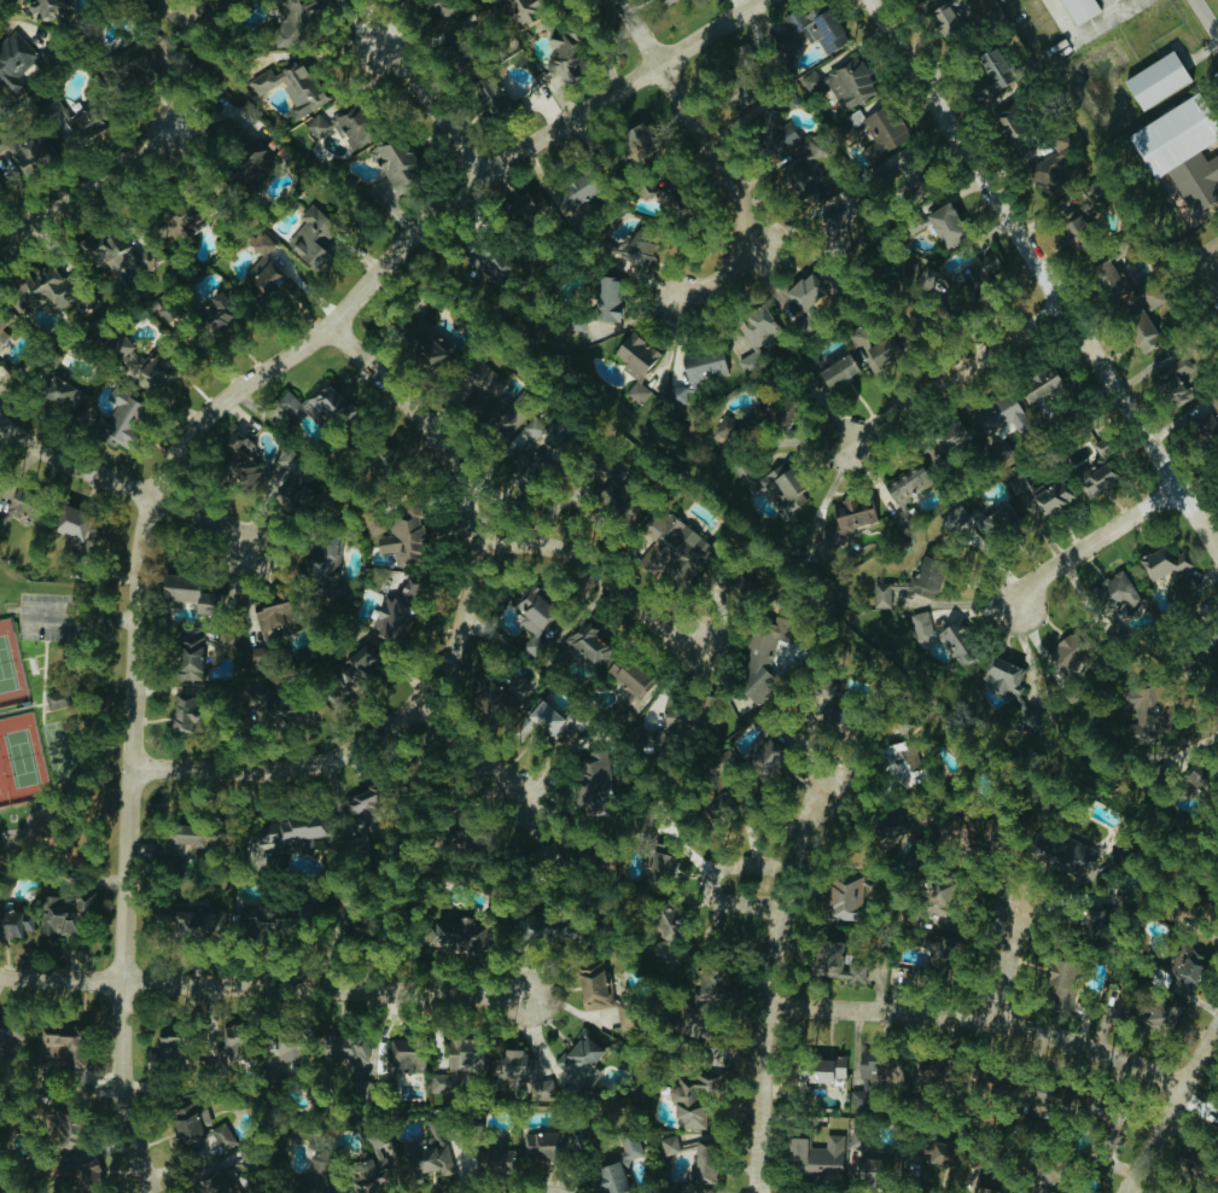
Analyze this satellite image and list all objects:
building: (1115, 0)
building: (668, 1)
building: (51, 6)
building: (444, 10)
building: (1079, 10)
building: (519, 13)
building: (293, 18)
road: (1205, 18)
building: (950, 19)
road: (1082, 29)
building: (812, 30)
road: (639, 33)
building: (453, 56)
building: (133, 57)
building: (561, 58)
building: (16, 62)
building: (990, 71)
building: (1155, 78)
building: (851, 82)
building: (291, 86)
building: (739, 88)
building: (490, 93)
building: (788, 97)
road: (432, 106)
building: (342, 124)
building: (1009, 124)
building: (882, 130)
building: (771, 132)
building: (1171, 134)
building: (639, 138)
building: (1060, 138)
building: (33, 150)
building: (247, 155)
building: (395, 162)
building: (909, 173)
building: (1049, 174)
building: (1197, 178)
building: (804, 179)
building: (0, 182)
road: (88, 185)
road: (734, 186)
building: (575, 190)
building: (654, 191)
building: (535, 200)
road: (433, 217)
building: (915, 220)
building: (177, 222)
building: (1082, 222)
building: (945, 223)
building: (834, 231)
building: (311, 234)
building: (262, 241)
road: (751, 244)
building: (637, 248)
building: (116, 249)
road: (1048, 269)
building: (927, 278)
building: (1112, 278)
building: (268, 281)
building: (40, 287)
building: (804, 292)
building: (1153, 296)
building: (608, 298)
road: (1199, 309)
building: (1217, 310)
building: (215, 313)
building: (1141, 328)
building: (2, 331)
building: (757, 334)
building: (427, 341)
building: (118, 343)
building: (882, 349)
building: (637, 361)
building: (839, 369)
building: (157, 371)
building: (698, 372)
road: (955, 379)
building: (1179, 379)
building: (1039, 383)
building: (62, 391)
building: (490, 400)
building: (330, 402)
building: (1002, 413)
building: (110, 417)
building: (1204, 425)
building: (535, 426)
building: (727, 427)
building: (951, 432)
building: (521, 450)
building: (380, 456)
building: (240, 461)
road: (74, 465)
building: (110, 477)
building: (1095, 478)
building: (782, 481)
building: (907, 482)
building: (297, 491)
building: (611, 494)
road: (462, 497)
building: (1051, 497)
road: (204, 517)
building: (850, 517)
building: (1, 522)
building: (980, 522)
building: (78, 525)
building: (404, 534)
road: (1095, 543)
building: (672, 546)
building: (324, 559)
building: (1164, 561)
road: (589, 563)
building: (927, 576)
building: (729, 581)
building: (1119, 589)
building: (187, 590)
building: (1190, 590)
building: (882, 594)
building: (397, 612)
building: (270, 615)
road: (82, 616)
building: (535, 617)
building: (944, 634)
building: (585, 639)
road: (686, 639)
building: (1068, 648)
building: (198, 650)
building: (760, 657)
building: (1199, 658)
building: (350, 673)
building: (629, 674)
building: (1003, 675)
building: (827, 691)
building: (483, 694)
building: (57, 698)
building: (290, 710)
building: (182, 712)
building: (1142, 712)
building: (681, 716)
building: (547, 717)
park: (19, 723)
road: (472, 750)
building: (765, 758)
building: (904, 762)
road: (284, 769)
building: (1195, 774)
building: (506, 775)
building: (594, 781)
building: (362, 801)
building: (898, 827)
building: (192, 833)
building: (969, 837)
road: (135, 845)
building: (546, 851)
building: (1066, 852)
building: (662, 865)
road: (710, 884)
building: (937, 895)
building: (846, 898)
building: (250, 912)
building: (63, 913)
building: (1085, 920)
building: (197, 921)
building: (664, 921)
building: (23, 924)
building: (458, 932)
building: (946, 942)
building: (837, 961)
road: (1010, 962)
building: (1189, 967)
building: (1060, 972)
road: (779, 976)
building: (713, 984)
road: (263, 985)
building: (595, 985)
building: (1165, 1013)
road: (987, 1020)
building: (16, 1032)
building: (165, 1041)
building: (77, 1044)
building: (286, 1046)
building: (235, 1051)
building: (349, 1052)
building: (579, 1057)
building: (456, 1063)
building: (400, 1064)
building: (824, 1069)
building: (875, 1069)
building: (523, 1071)
building: (926, 1073)
building: (1057, 1096)
building: (682, 1099)
road: (1176, 1112)
building: (192, 1121)
building: (84, 1122)
building: (1109, 1134)
building: (221, 1136)
building: (858, 1137)
building: (671, 1143)
building: (544, 1145)
building: (940, 1153)
building: (495, 1156)
building: (426, 1157)
building: (815, 1157)
building: (619, 1163)
building: (1191, 1165)
building: (704, 1170)
building: (101, 1175)
building: (363, 1175)
building: (217, 1181)
building: (304, 1182)
building: (697, 1187)
building: (983, 1189)
building: (1053, 1192)

